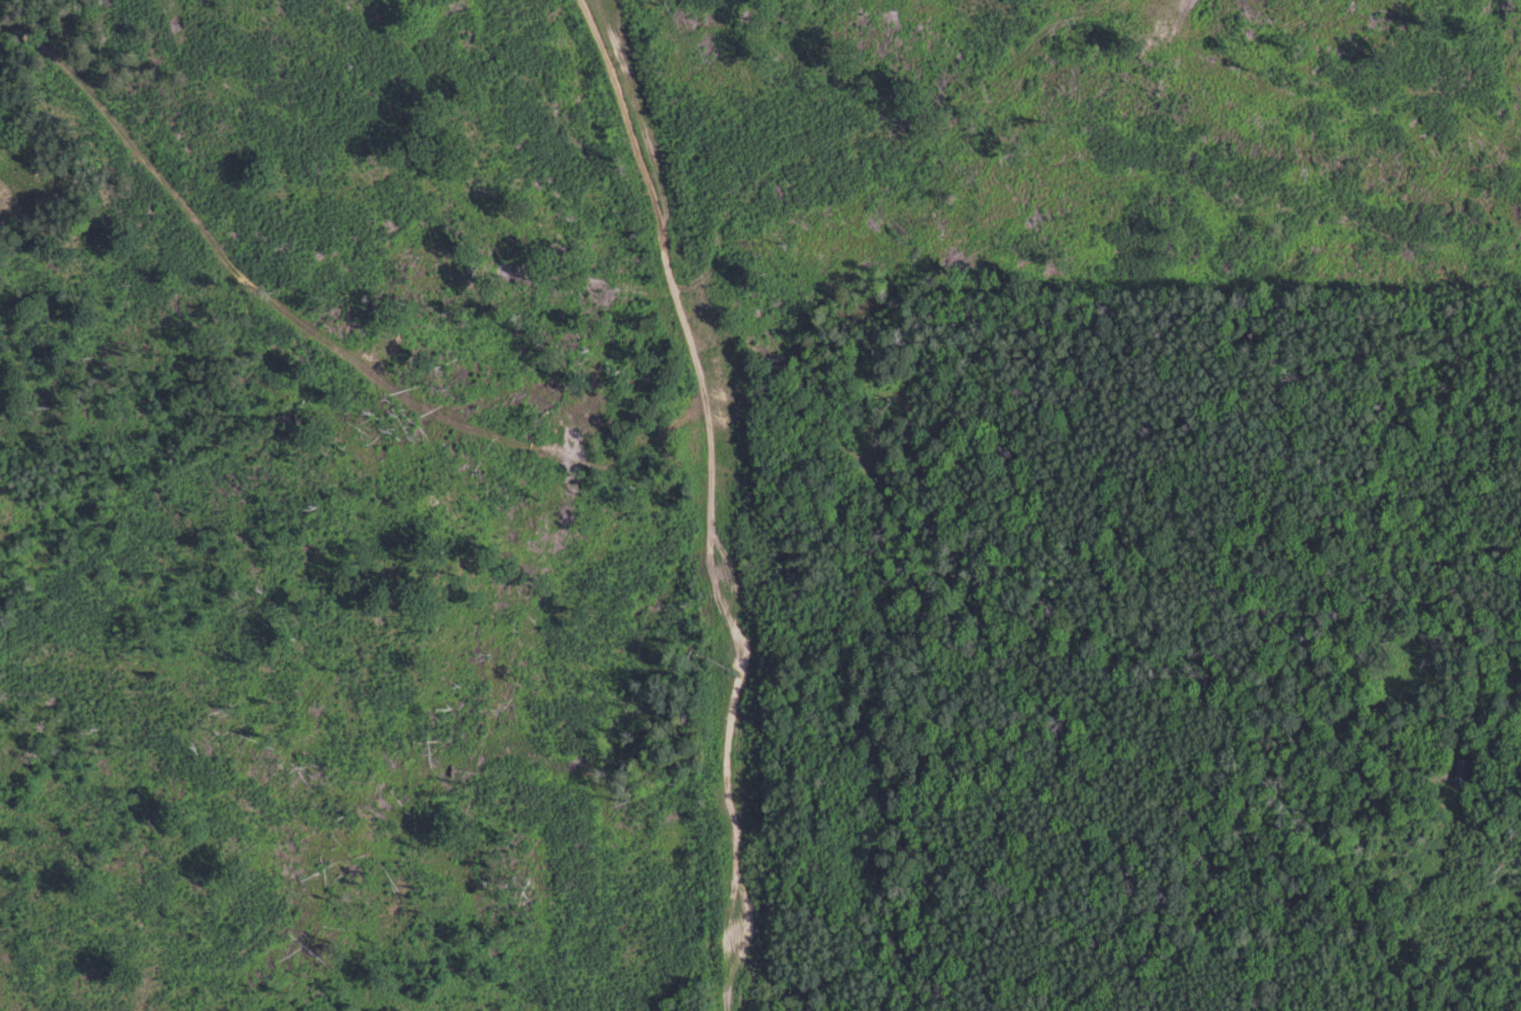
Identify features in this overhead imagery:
road: (698, 500)
building: (1462, 775)

